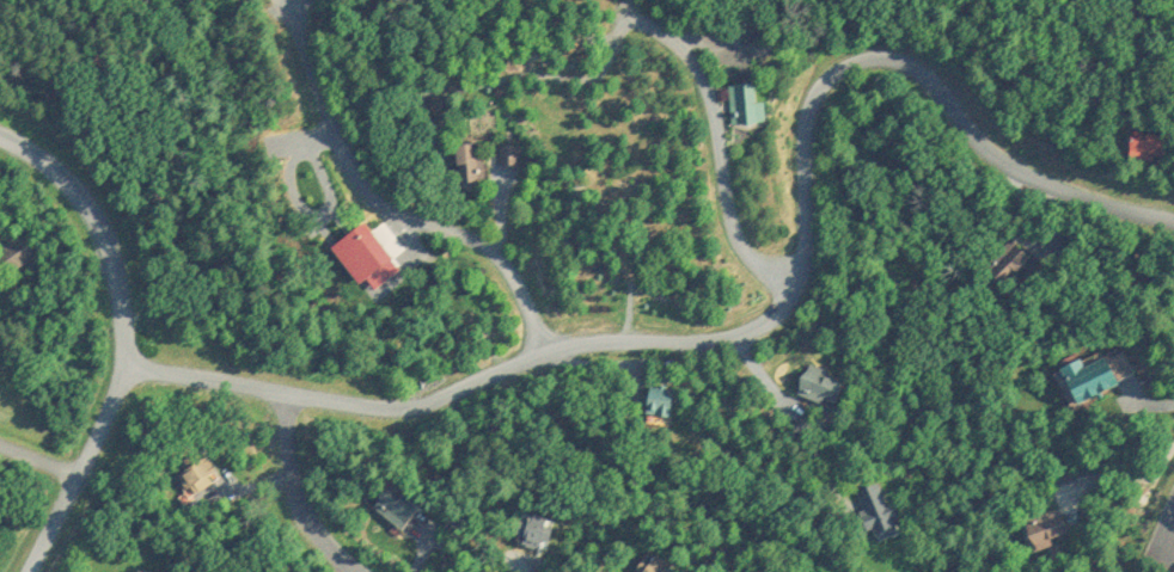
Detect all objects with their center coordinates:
building: (745, 103)
road: (717, 140)
building: (1148, 143)
building: (508, 150)
building: (467, 159)
road: (383, 207)
building: (14, 250)
road: (766, 315)
road: (120, 339)
building: (820, 380)
building: (659, 395)
road: (38, 455)
building: (197, 472)
road: (1124, 485)
road: (301, 493)
building: (396, 500)
building: (1045, 524)
building: (533, 533)
road: (1168, 533)
building: (655, 564)
building: (145, 570)

